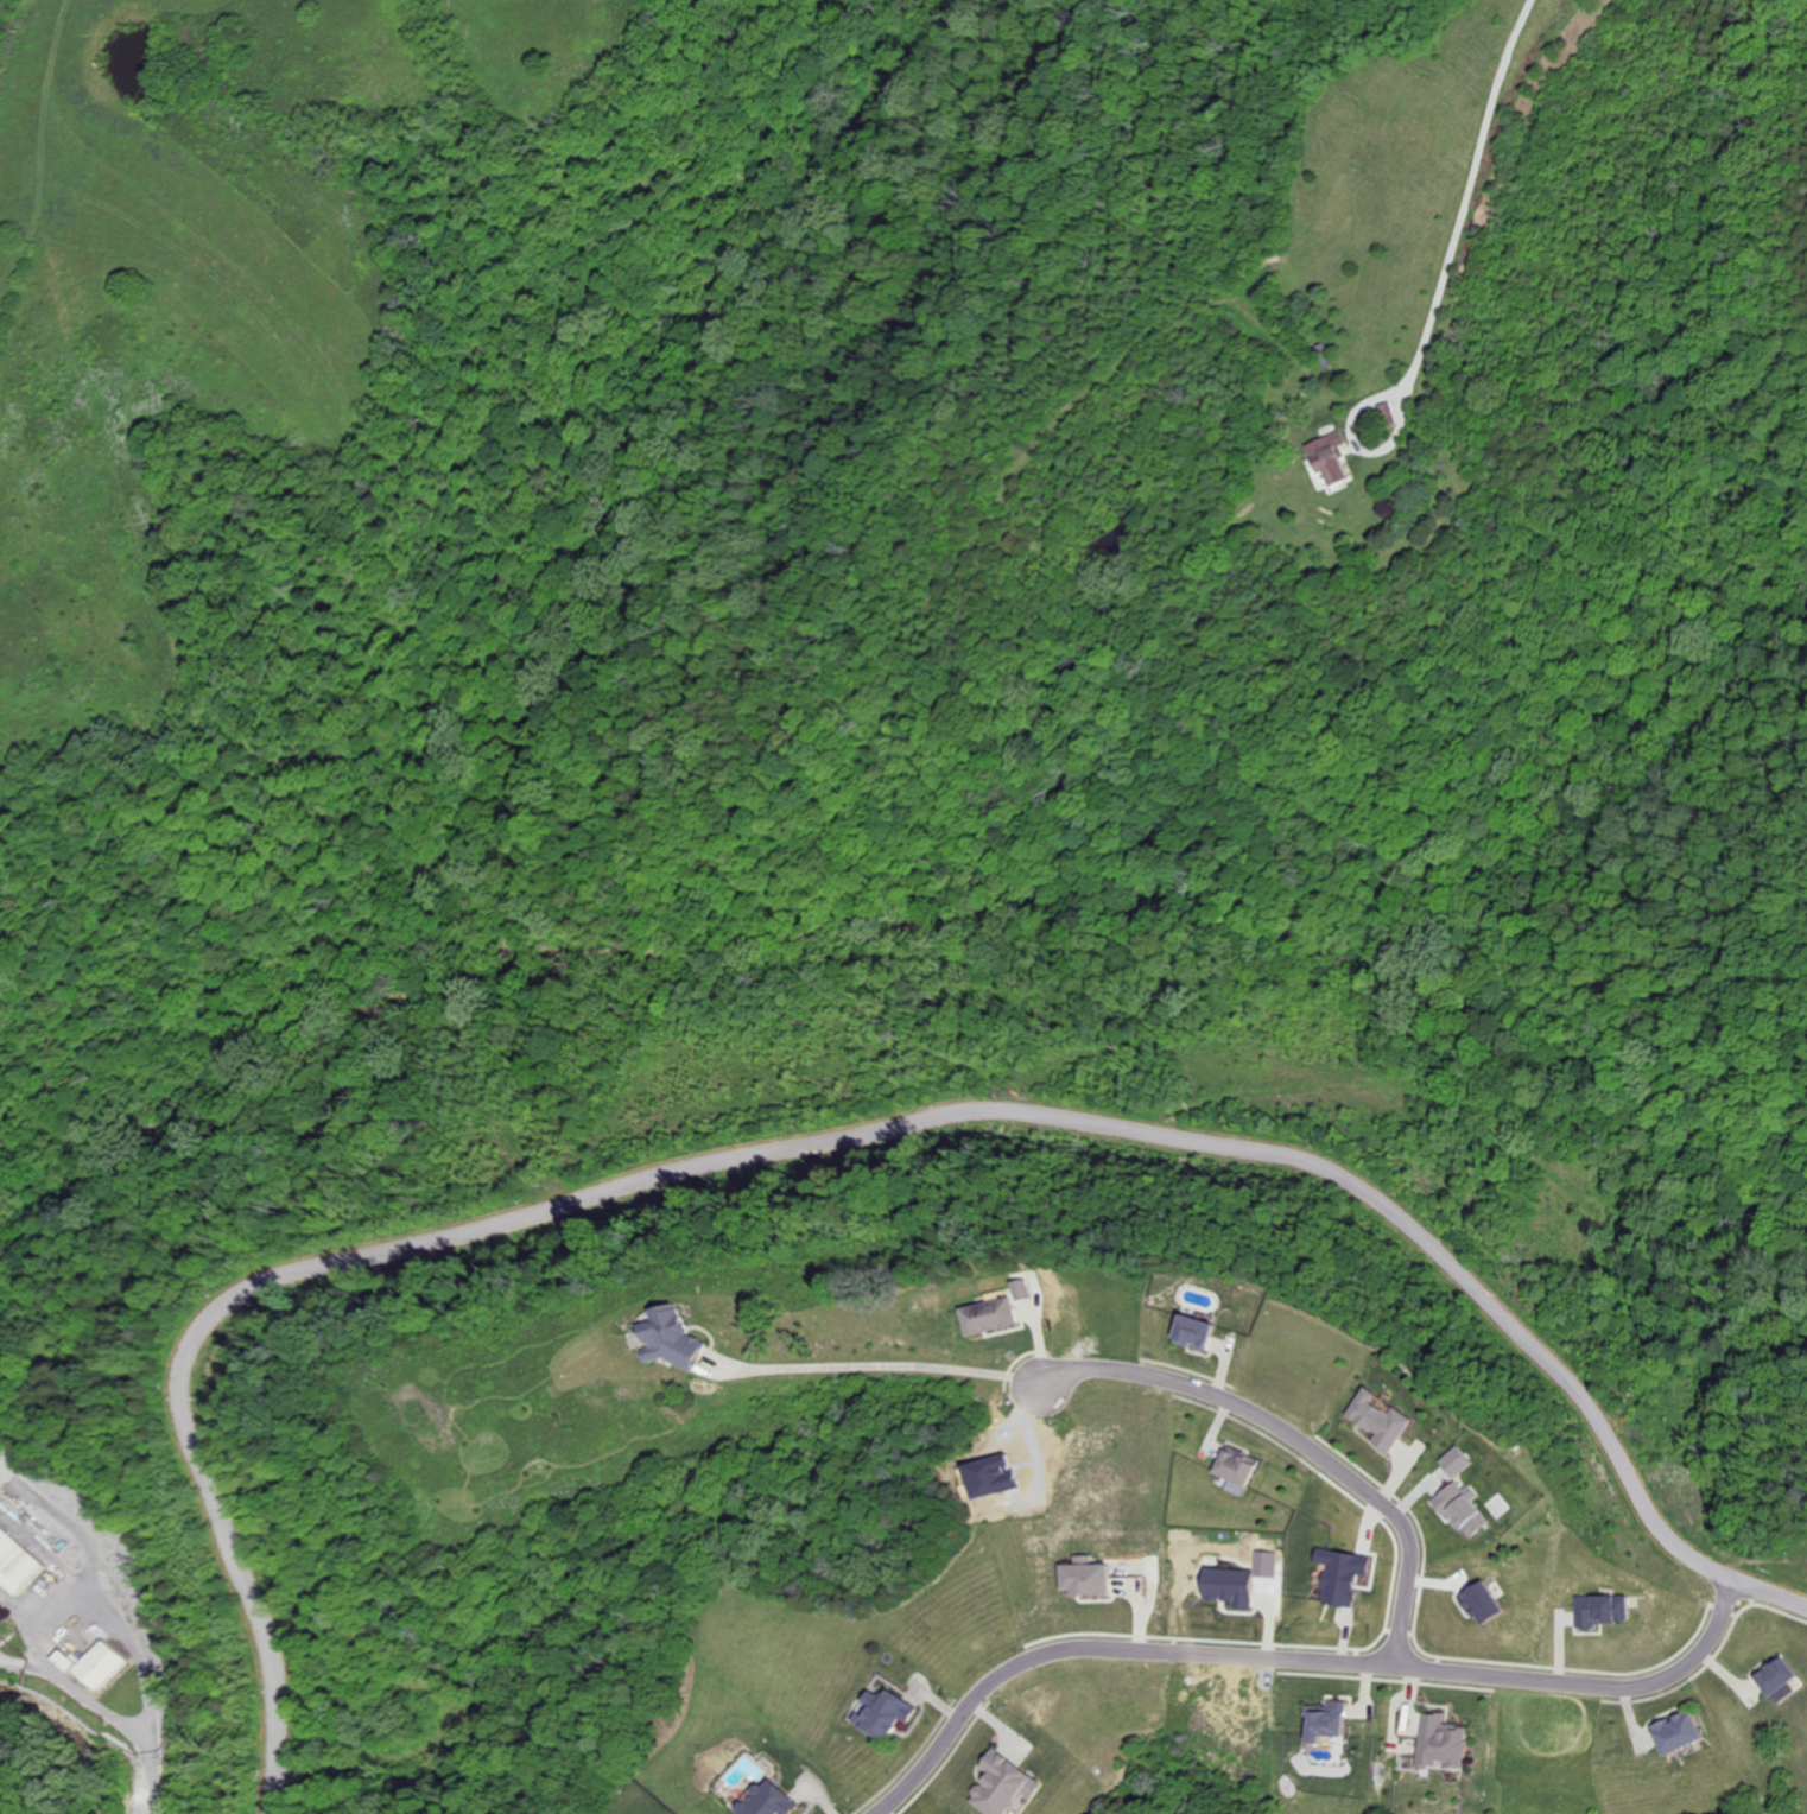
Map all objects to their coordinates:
road: (1466, 191)
building: (1384, 413)
road: (1355, 444)
building: (1325, 457)
road: (836, 1143)
building: (1022, 1288)
building: (985, 1314)
building: (1192, 1331)
building: (670, 1338)
road: (906, 1371)
building: (1378, 1419)
road: (1299, 1438)
building: (1456, 1461)
building: (1234, 1467)
building: (1460, 1508)
road: (62, 1521)
road: (38, 1546)
building: (1264, 1564)
building: (1336, 1574)
building: (1080, 1575)
building: (1225, 1585)
road: (74, 1596)
building: (1477, 1600)
wastewater plant: (81, 1605)
road: (71, 1609)
building: (1599, 1609)
road: (1099, 1648)
building: (61, 1660)
building: (94, 1664)
road: (1437, 1669)
building: (1775, 1679)
road: (1634, 1687)
building: (881, 1712)
building: (1324, 1719)
building: (1674, 1731)
building: (1439, 1743)
building: (1000, 1783)
road: (146, 1786)
building: (766, 1801)

